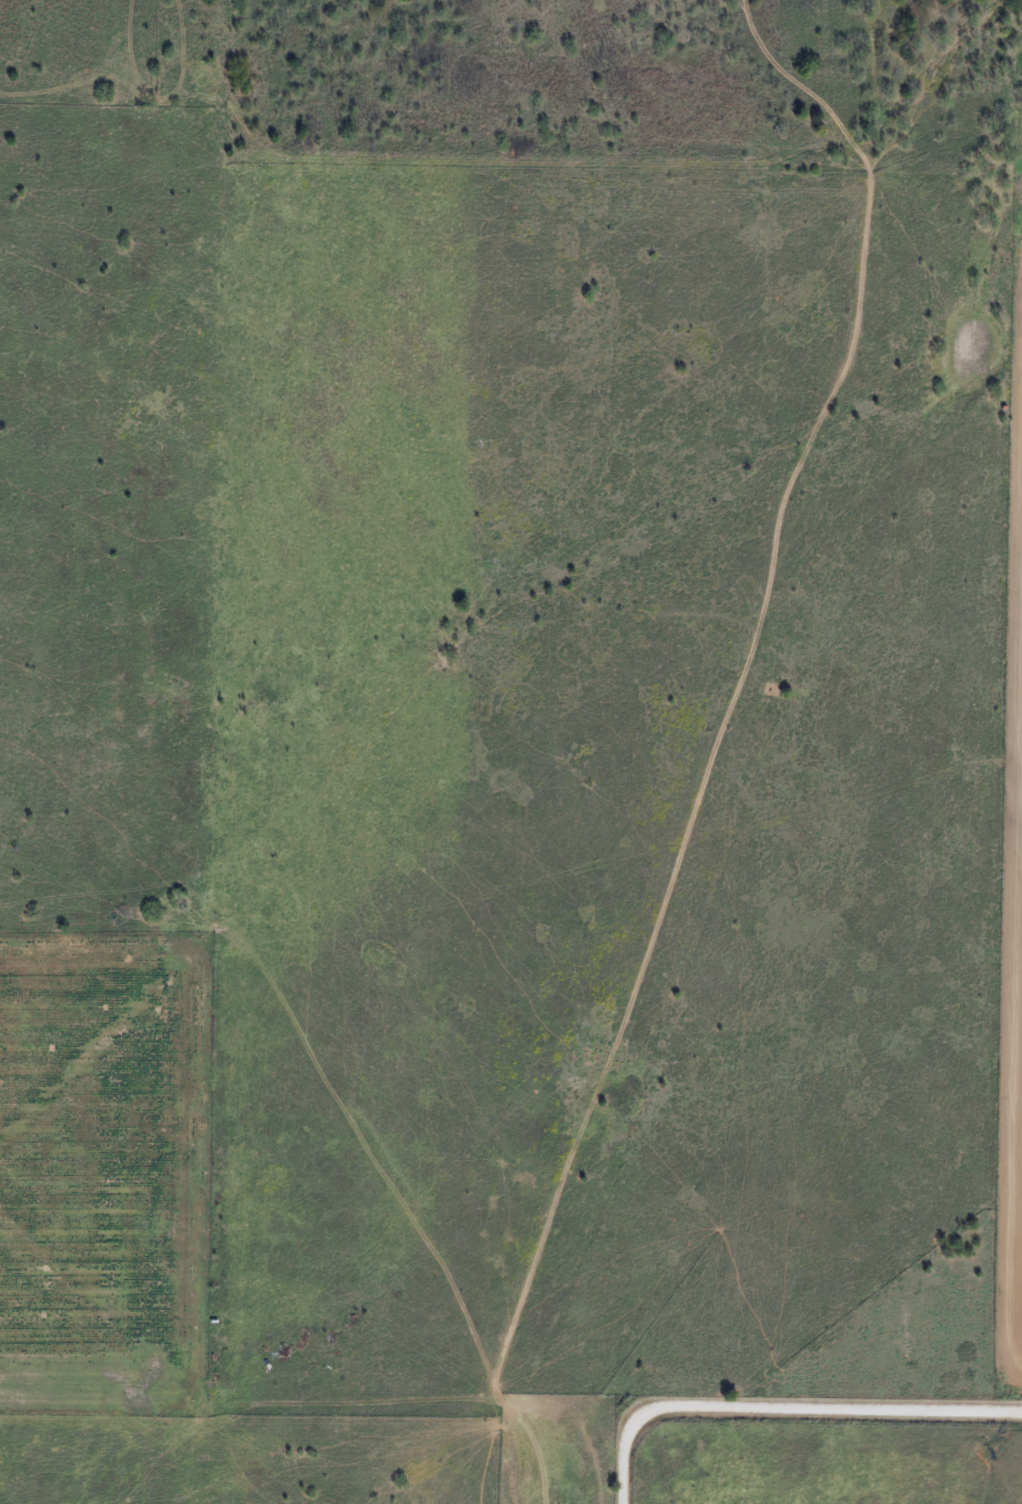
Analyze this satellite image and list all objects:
road: (785, 1405)

